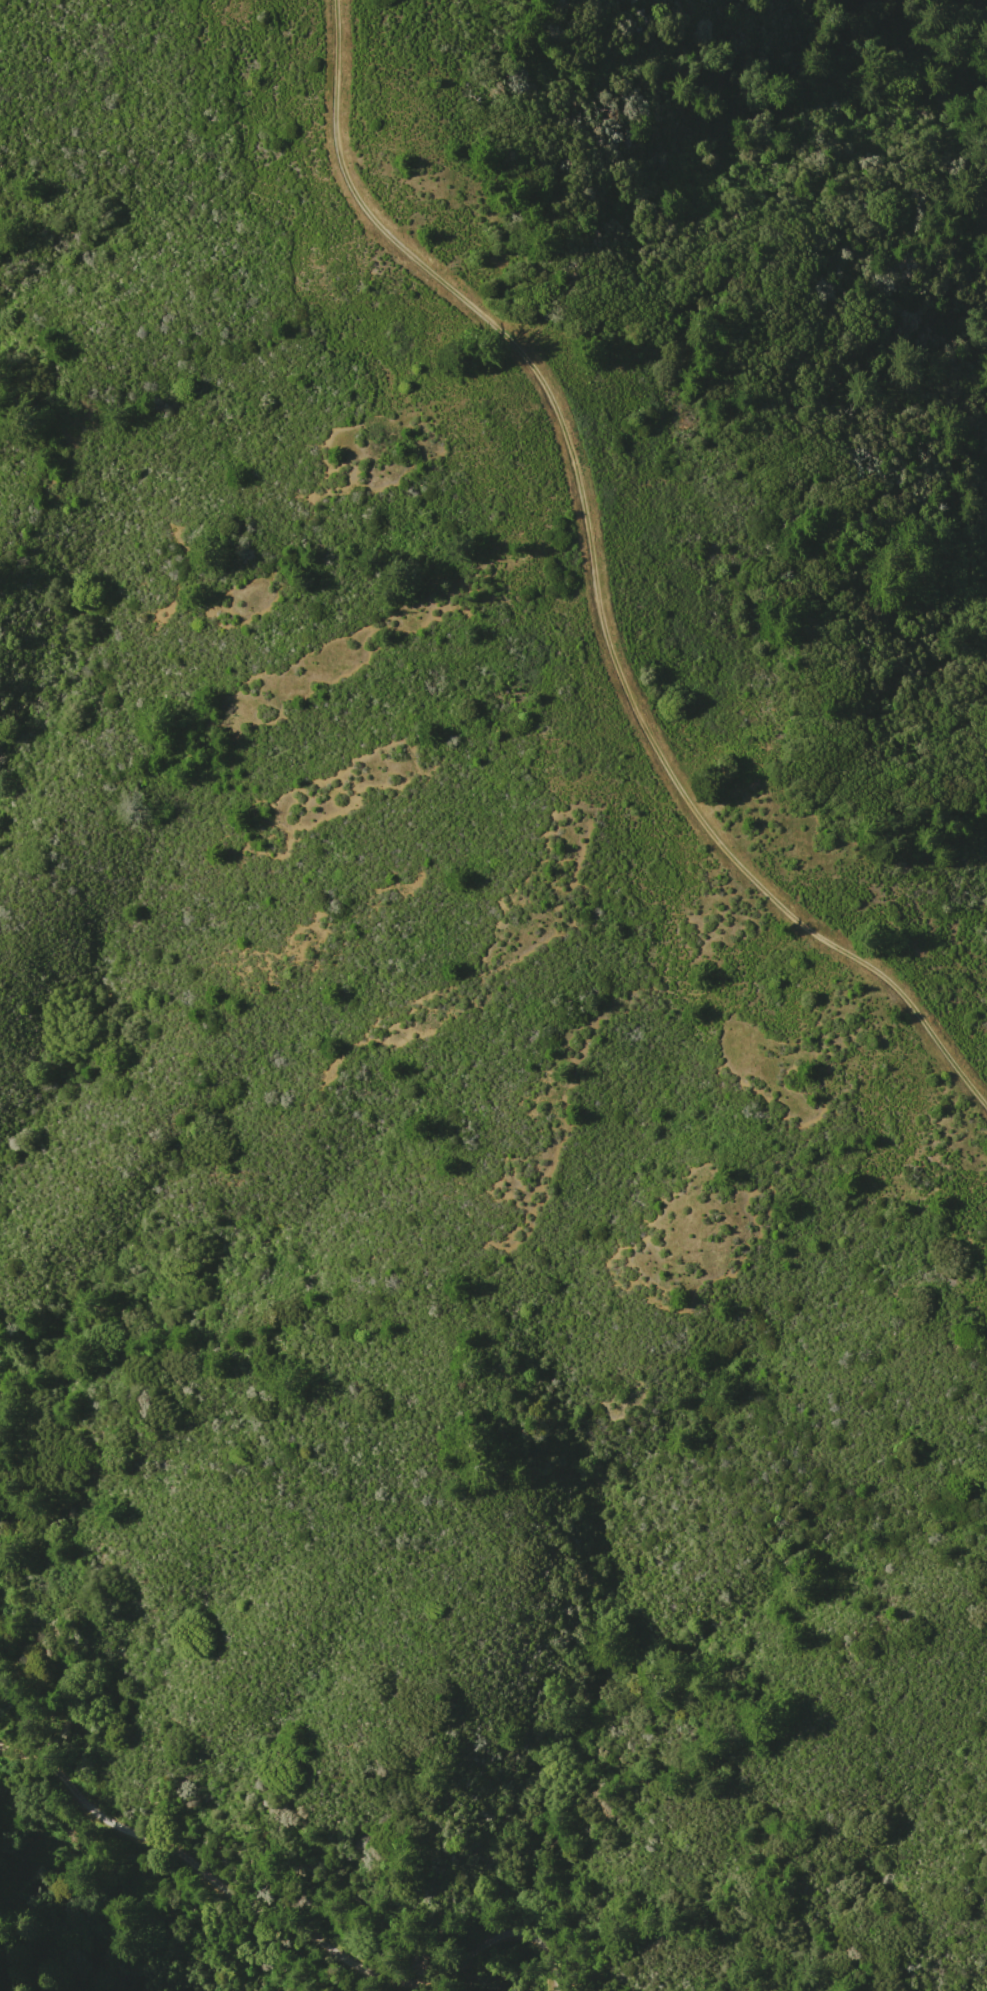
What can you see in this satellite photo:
road: (602, 580)
road: (288, 1909)

